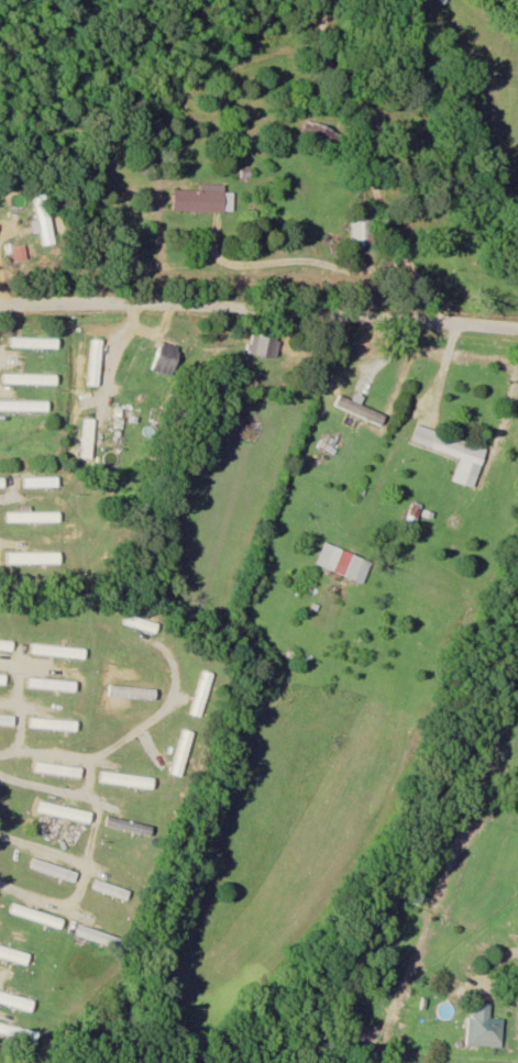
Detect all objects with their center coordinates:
building: (445, 1)
building: (320, 134)
road: (363, 151)
road: (48, 154)
road: (98, 155)
building: (201, 201)
building: (2, 209)
building: (45, 219)
building: (366, 231)
road: (290, 261)
road: (1, 286)
road: (260, 309)
building: (37, 342)
building: (265, 345)
road: (25, 358)
building: (168, 358)
building: (97, 362)
building: (32, 378)
building: (25, 406)
road: (77, 422)
road: (401, 429)
building: (89, 438)
building: (453, 449)
building: (43, 481)
building: (2, 483)
building: (34, 517)
building: (352, 569)
building: (143, 623)
building: (7, 644)
building: (60, 651)
road: (38, 665)
building: (3, 678)
building: (55, 684)
building: (203, 694)
road: (37, 705)
building: (8, 720)
building: (56, 724)
road: (113, 740)
building: (59, 769)
building: (129, 780)
building: (66, 812)
building: (130, 826)
road: (57, 852)
building: (55, 871)
building: (112, 890)
road: (47, 901)
building: (38, 917)
building: (95, 935)
building: (14, 955)
building: (18, 1001)
building: (485, 1028)
building: (20, 1033)

